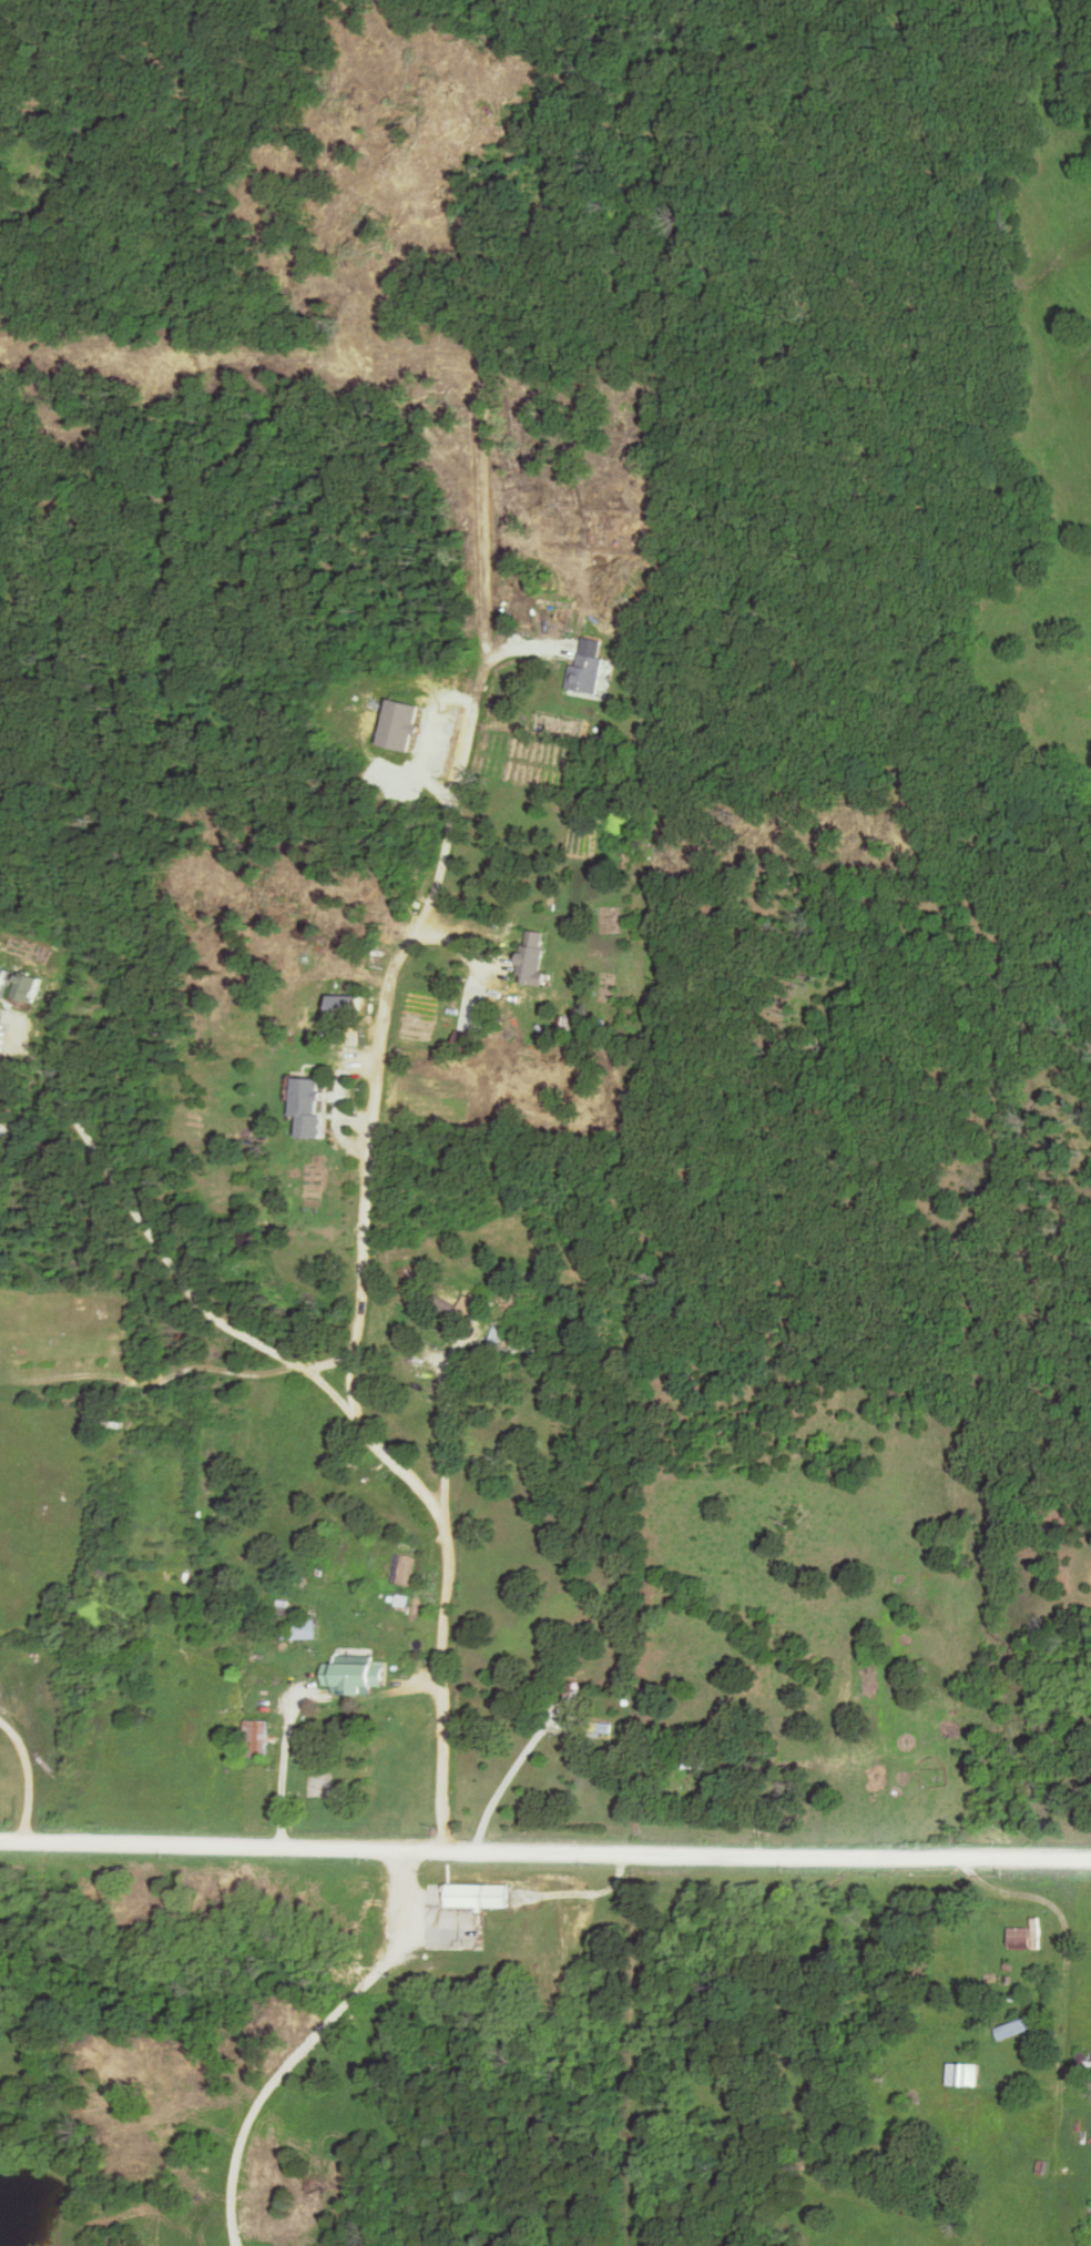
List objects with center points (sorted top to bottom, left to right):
building: (585, 673)
building: (531, 954)
building: (6, 979)
building: (467, 1019)
road: (14, 1045)
building: (305, 1097)
building: (457, 1309)
road: (357, 1360)
building: (304, 1628)
building: (349, 1675)
building: (571, 1693)
road: (296, 1698)
building: (257, 1738)
road: (18, 1762)
road: (509, 1780)
road: (544, 1852)
building: (478, 1894)
road: (1072, 1928)
building: (1027, 1935)
building: (1012, 2029)
road: (313, 2045)
building: (963, 2074)
building: (914, 2096)

